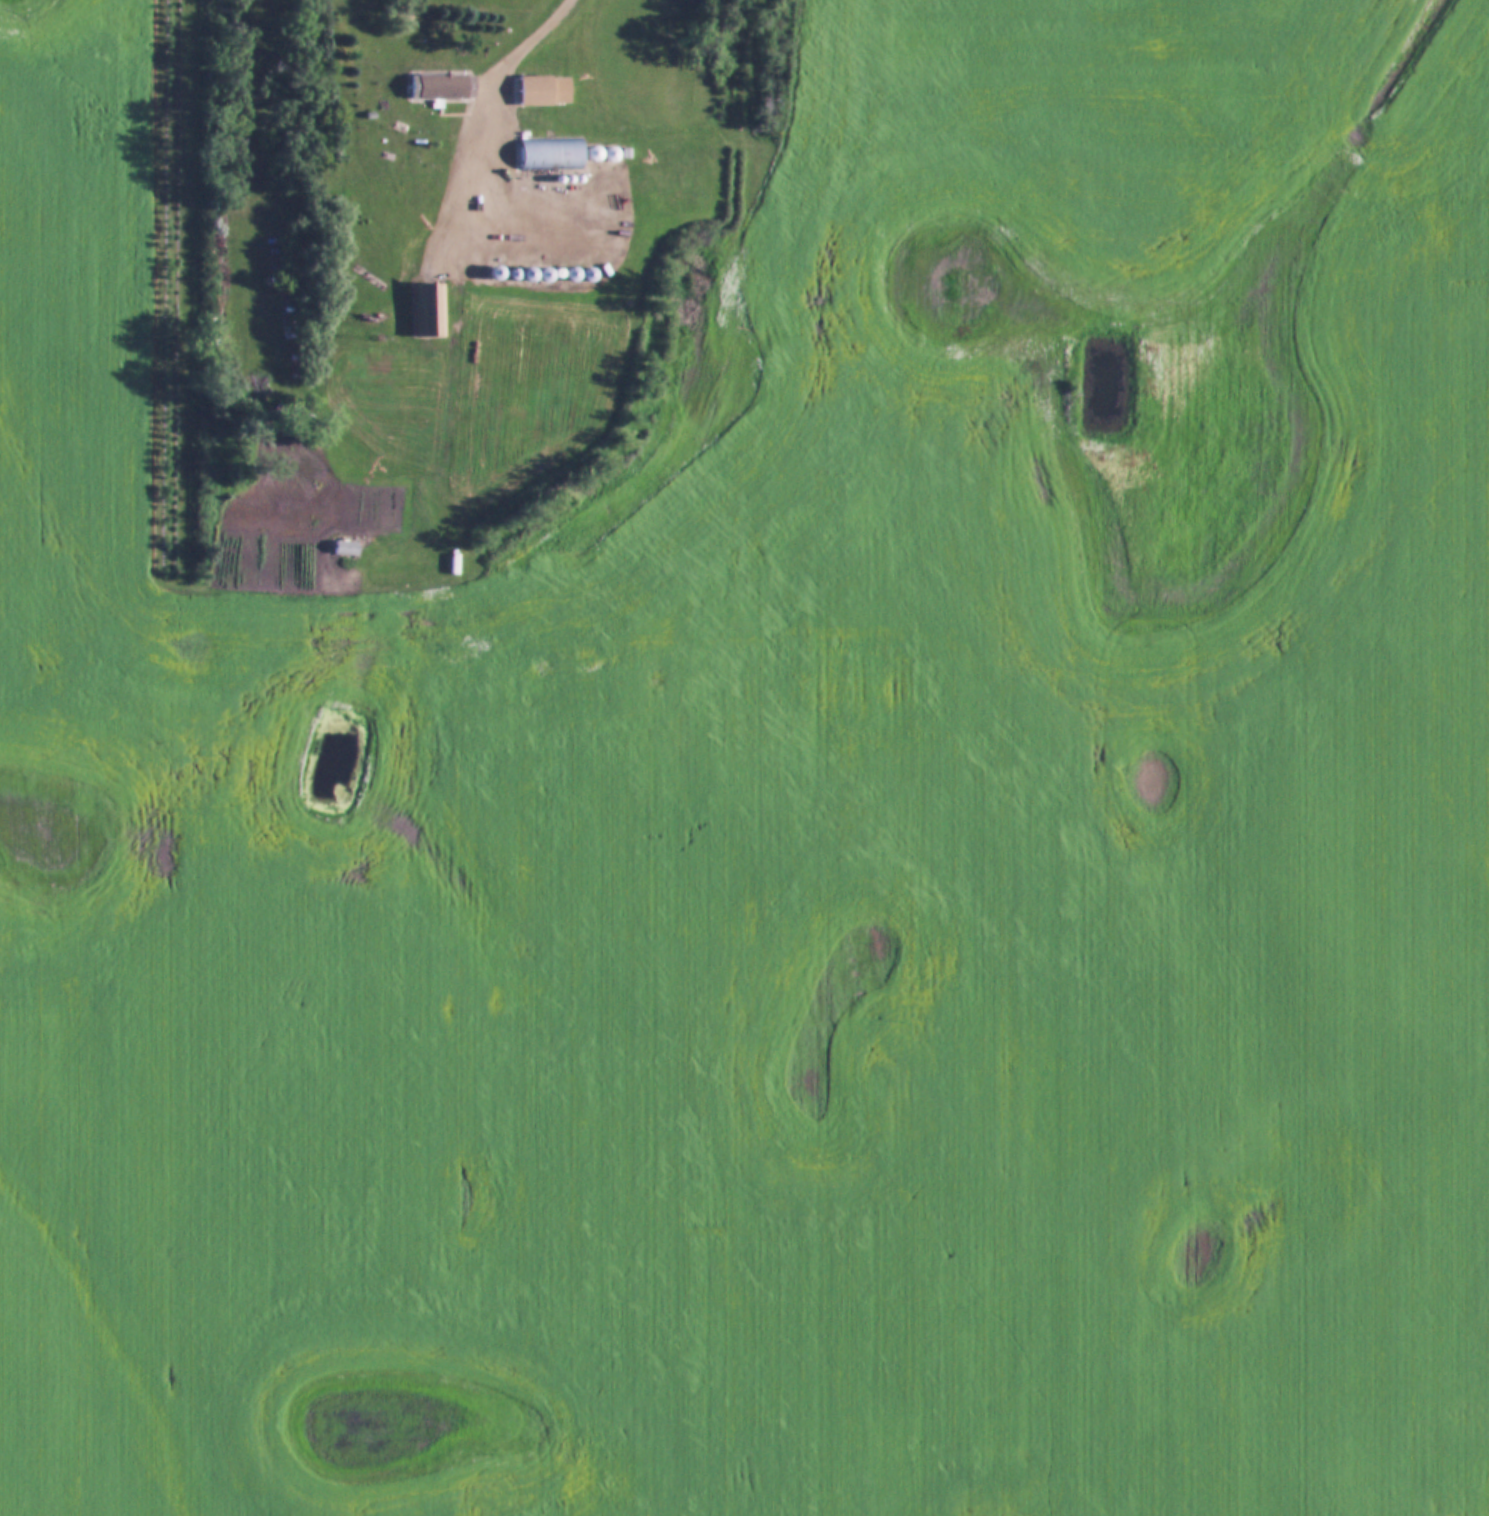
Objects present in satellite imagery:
building: (438, 87)
building: (541, 91)
road: (474, 125)
building: (548, 154)
building: (428, 312)
building: (342, 549)

